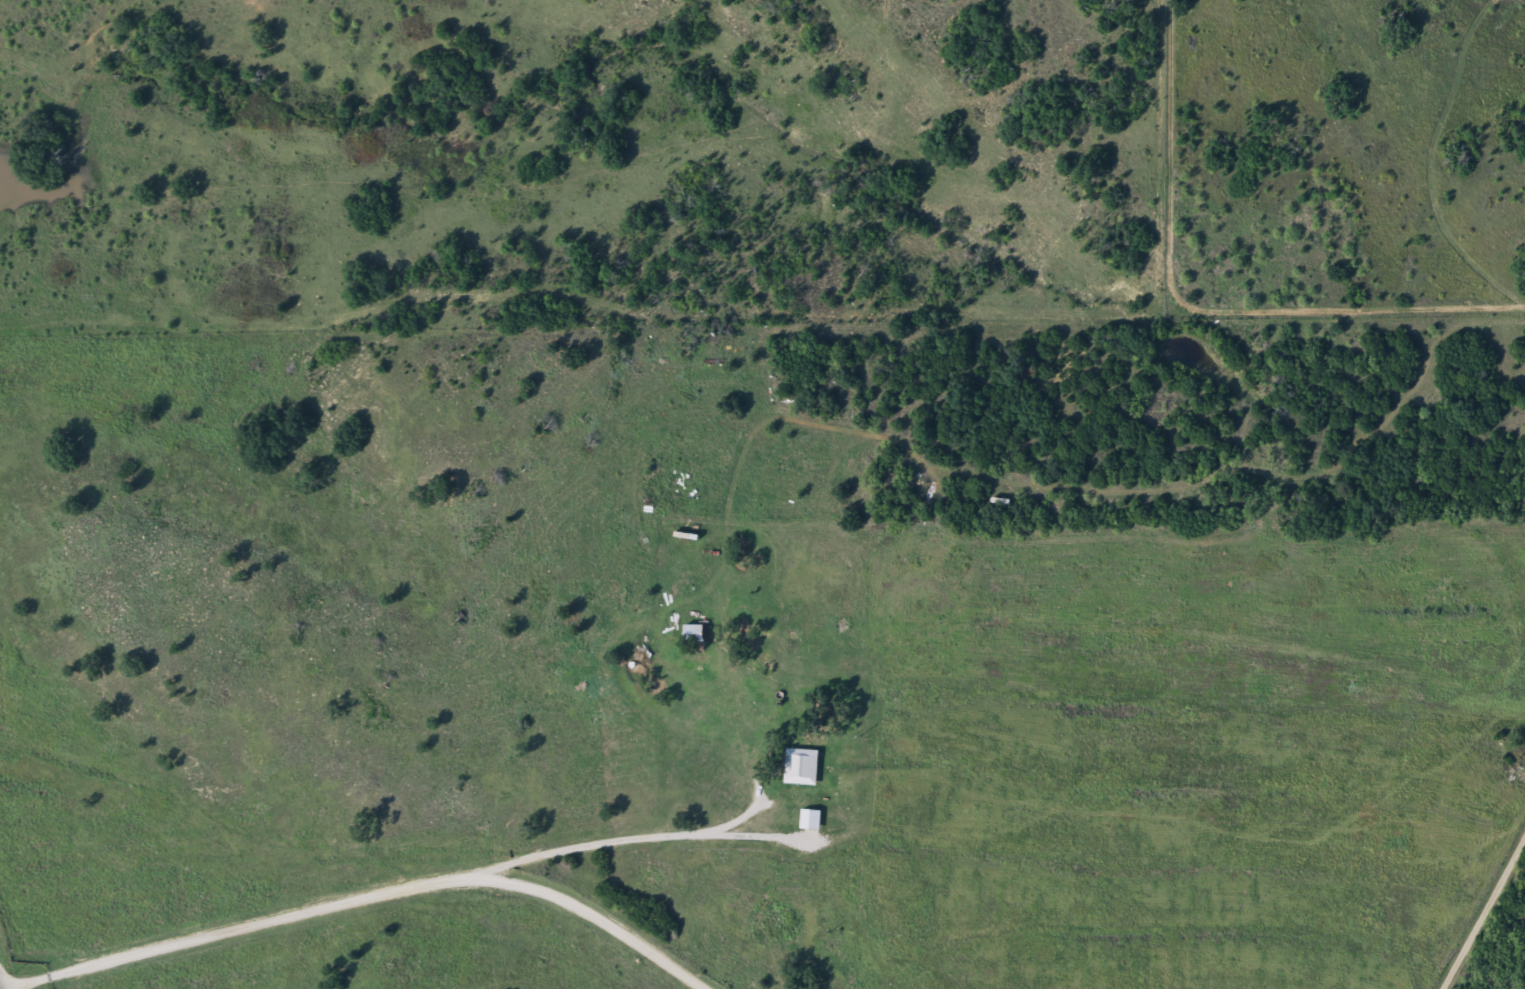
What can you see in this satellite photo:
building: (693, 636)
building: (801, 770)
road: (761, 861)
road: (875, 868)
road: (366, 898)
road: (3, 977)

